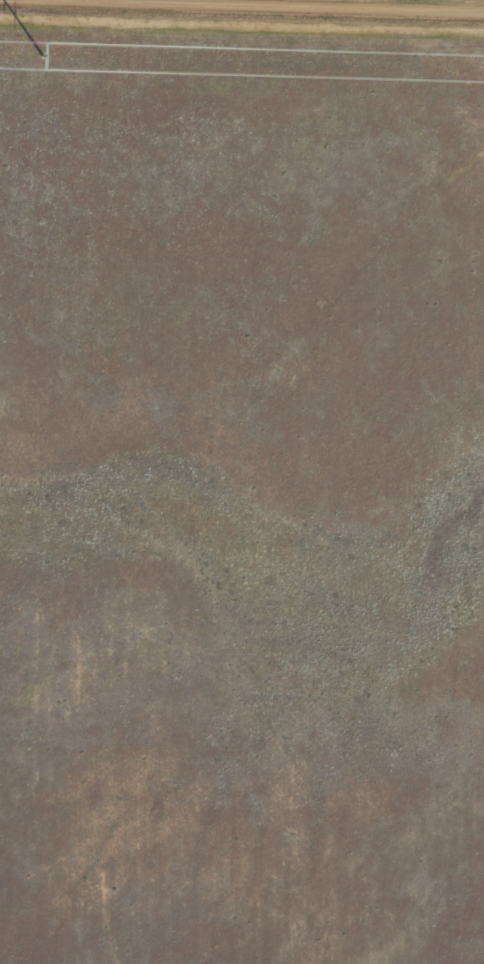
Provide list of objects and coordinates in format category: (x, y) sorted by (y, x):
road: (352, 3)
power tower: (43, 53)

